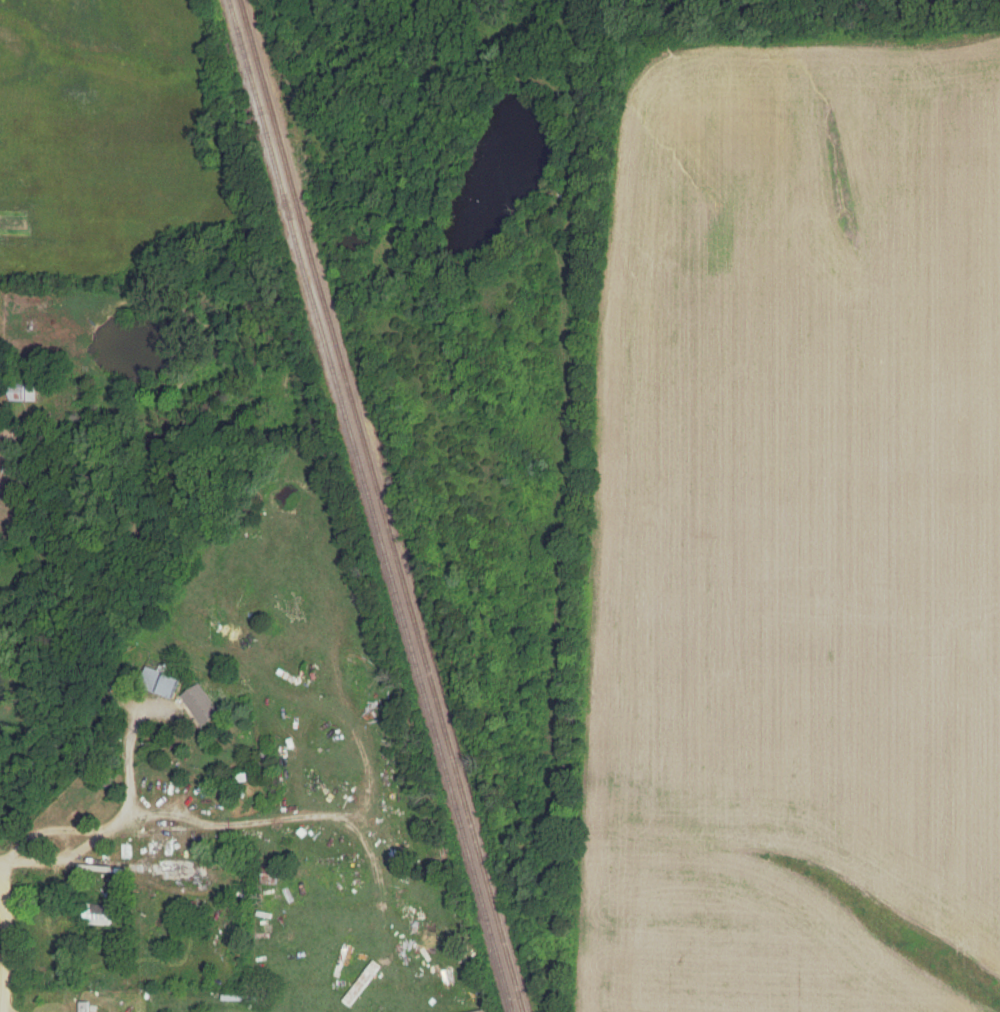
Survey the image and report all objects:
building: (23, 393)
railway: (368, 506)
railway: (380, 506)
building: (161, 683)
building: (199, 706)
road: (128, 804)
road: (242, 824)
building: (179, 869)
building: (99, 915)
road: (6, 952)
building: (84, 1007)

